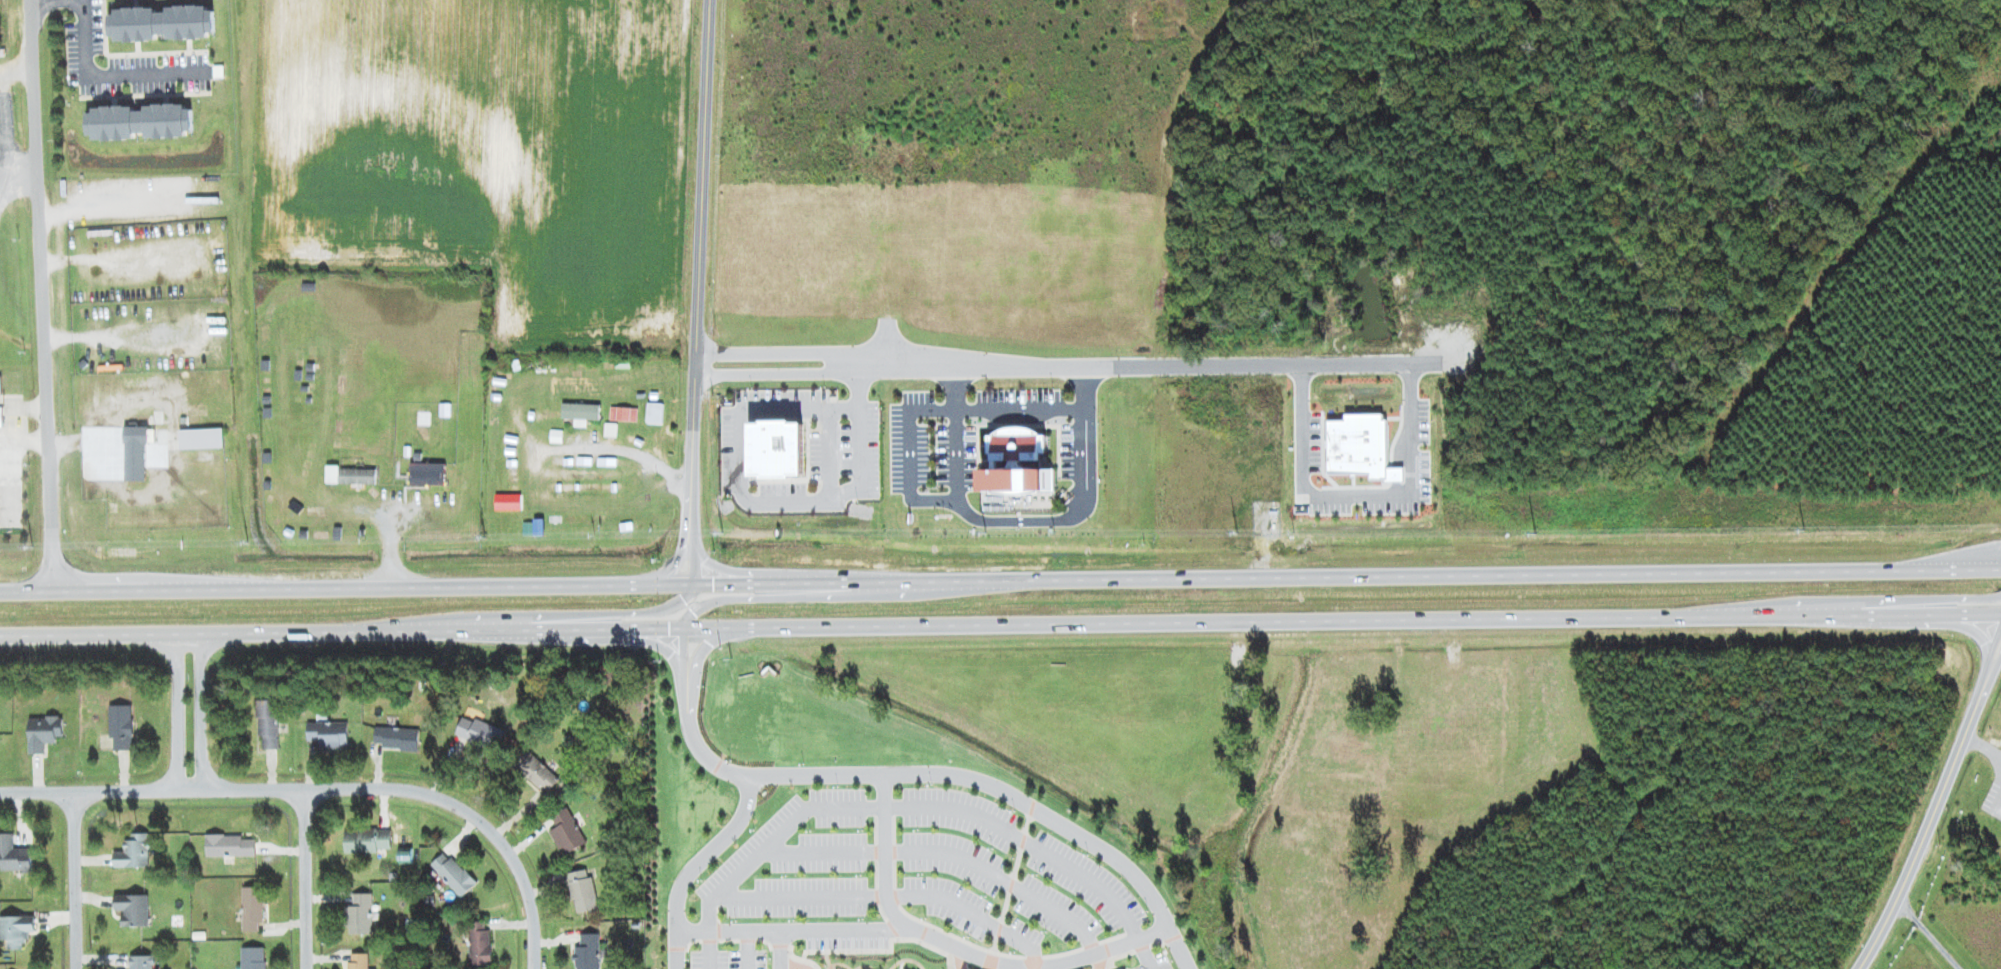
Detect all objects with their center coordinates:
road: (107, 70)
road: (699, 263)
road: (40, 295)
road: (908, 375)
building: (143, 379)
building: (581, 411)
building: (655, 412)
building: (627, 413)
building: (1, 415)
building: (142, 417)
building: (201, 436)
building: (777, 446)
building: (1361, 446)
building: (136, 452)
building: (1015, 464)
building: (333, 472)
building: (427, 472)
building: (357, 475)
building: (297, 481)
building: (508, 500)
road: (694, 555)
road: (676, 561)
traffic signals: (672, 569)
road: (1000, 580)
traffic signals: (713, 584)
road: (761, 596)
traffic signals: (683, 600)
road: (1931, 602)
traffic signals: (692, 611)
road: (618, 613)
road: (1000, 622)
traffic signals: (668, 626)
traffic signals: (708, 643)
road: (704, 646)
road: (1990, 651)
road: (682, 653)
road: (1992, 670)
road: (200, 710)
road: (178, 711)
building: (269, 724)
building: (122, 725)
building: (480, 731)
building: (44, 732)
building: (329, 733)
building: (397, 738)
road: (1983, 745)
building: (537, 771)
road: (945, 774)
road: (189, 788)
road: (88, 790)
road: (426, 790)
road: (932, 807)
road: (1925, 829)
building: (567, 832)
building: (368, 840)
building: (230, 845)
building: (14, 854)
building: (134, 854)
building: (405, 854)
road: (944, 854)
road: (887, 856)
parking lot: (805, 861)
road: (696, 864)
building: (454, 871)
parking lot: (1004, 875)
road: (303, 877)
road: (72, 879)
building: (584, 890)
road: (889, 899)
building: (253, 907)
building: (133, 908)
building: (360, 914)
building: (16, 929)
road: (1925, 932)
road: (927, 937)
building: (480, 944)
parking lot: (846, 944)
road: (712, 951)
road: (749, 951)
road: (782, 951)
building: (588, 952)
parking lot: (730, 955)
building: (253, 957)
parking lot: (1150, 957)
building: (359, 961)
building: (142, 962)
building: (811, 967)

